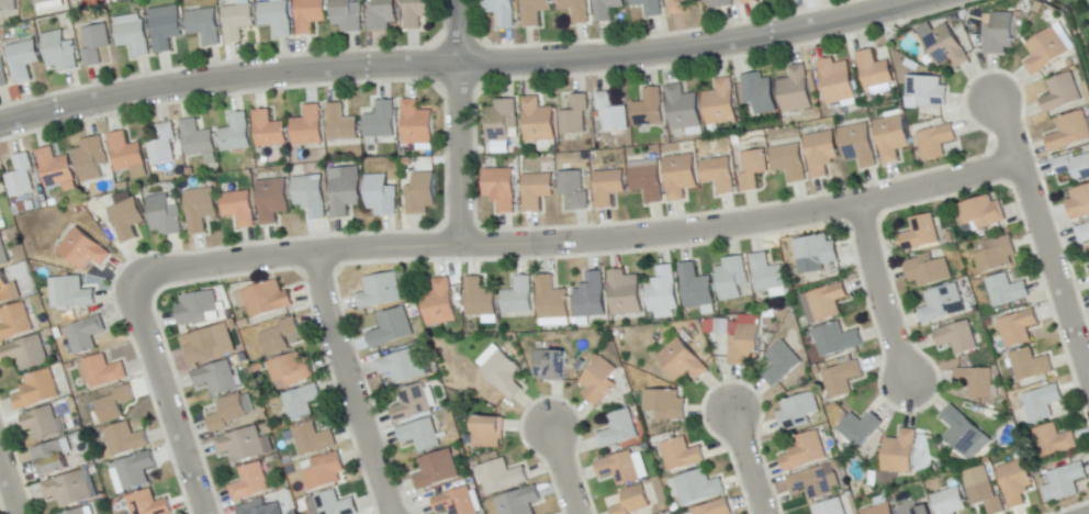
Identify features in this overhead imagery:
building: (69, 0)
building: (76, 0)
building: (749, 1)
building: (44, 2)
building: (8, 3)
building: (721, 3)
building: (677, 5)
building: (649, 7)
building: (576, 10)
building: (607, 10)
building: (502, 11)
building: (535, 11)
building: (417, 13)
building: (310, 14)
building: (347, 15)
building: (382, 15)
building: (274, 16)
building: (236, 21)
building: (204, 25)
building: (165, 26)
building: (1000, 33)
building: (132, 34)
building: (94, 44)
building: (945, 46)
building: (1046, 51)
building: (59, 53)
building: (22, 59)
road: (461, 63)
building: (874, 71)
building: (3, 74)
building: (837, 81)
building: (795, 91)
building: (759, 92)
building: (927, 92)
building: (1062, 93)
building: (720, 103)
building: (649, 109)
building: (682, 109)
building: (611, 112)
building: (575, 115)
building: (502, 120)
building: (381, 121)
building: (538, 121)
road: (460, 122)
building: (340, 124)
building: (417, 124)
building: (307, 127)
building: (268, 131)
building: (1070, 132)
building: (236, 134)
building: (891, 137)
building: (199, 142)
building: (935, 142)
building: (858, 144)
building: (162, 145)
building: (496, 146)
building: (820, 153)
building: (126, 155)
building: (91, 158)
building: (789, 161)
building: (1073, 166)
building: (752, 168)
building: (55, 169)
building: (719, 174)
building: (680, 176)
building: (20, 177)
building: (648, 183)
building: (609, 187)
building: (501, 189)
building: (574, 189)
building: (345, 190)
building: (536, 191)
building: (420, 193)
building: (310, 195)
building: (381, 195)
building: (272, 200)
building: (1079, 203)
building: (239, 208)
building: (200, 210)
building: (983, 212)
building: (164, 215)
building: (126, 219)
building: (1084, 233)
building: (920, 234)
road: (1043, 241)
road: (575, 242)
building: (83, 250)
building: (817, 250)
building: (3, 254)
building: (996, 255)
building: (927, 270)
building: (766, 273)
building: (1088, 275)
building: (730, 278)
building: (696, 288)
building: (5, 290)
road: (879, 290)
building: (380, 291)
building: (1007, 291)
building: (663, 292)
building: (70, 293)
building: (625, 293)
building: (518, 297)
building: (591, 297)
building: (480, 299)
building: (267, 300)
building: (827, 301)
building: (551, 303)
building: (439, 304)
building: (943, 304)
building: (197, 309)
building: (14, 322)
building: (391, 328)
building: (1018, 328)
building: (86, 334)
building: (279, 336)
building: (958, 338)
building: (835, 339)
building: (204, 345)
building: (744, 345)
building: (24, 354)
building: (682, 361)
building: (550, 366)
building: (781, 366)
building: (1030, 366)
building: (402, 367)
building: (290, 369)
building: (103, 372)
building: (503, 375)
building: (841, 378)
building: (216, 379)
building: (598, 382)
building: (976, 382)
road: (349, 383)
building: (36, 391)
road: (167, 396)
building: (244, 402)
building: (300, 402)
building: (1042, 403)
building: (114, 404)
building: (412, 404)
building: (663, 405)
building: (797, 412)
building: (226, 413)
building: (42, 424)
building: (860, 429)
building: (618, 431)
building: (961, 431)
building: (489, 433)
building: (419, 436)
building: (312, 439)
building: (124, 440)
building: (1054, 442)
building: (242, 445)
building: (805, 451)
building: (900, 452)
building: (680, 455)
building: (49, 459)
road: (749, 462)
building: (619, 469)
building: (134, 470)
building: (436, 471)
road: (564, 471)
building: (324, 472)
building: (502, 477)
building: (1067, 481)
building: (249, 483)
building: (811, 483)
building: (1015, 483)
road: (9, 484)
building: (698, 488)
building: (70, 489)
building: (985, 496)
building: (518, 501)
building: (633, 502)
building: (948, 502)
building: (454, 503)
building: (147, 504)
building: (334, 504)
building: (715, 507)
building: (830, 507)
building: (258, 509)
building: (879, 510)
building: (913, 510)
building: (78, 512)
building: (686, 513)

